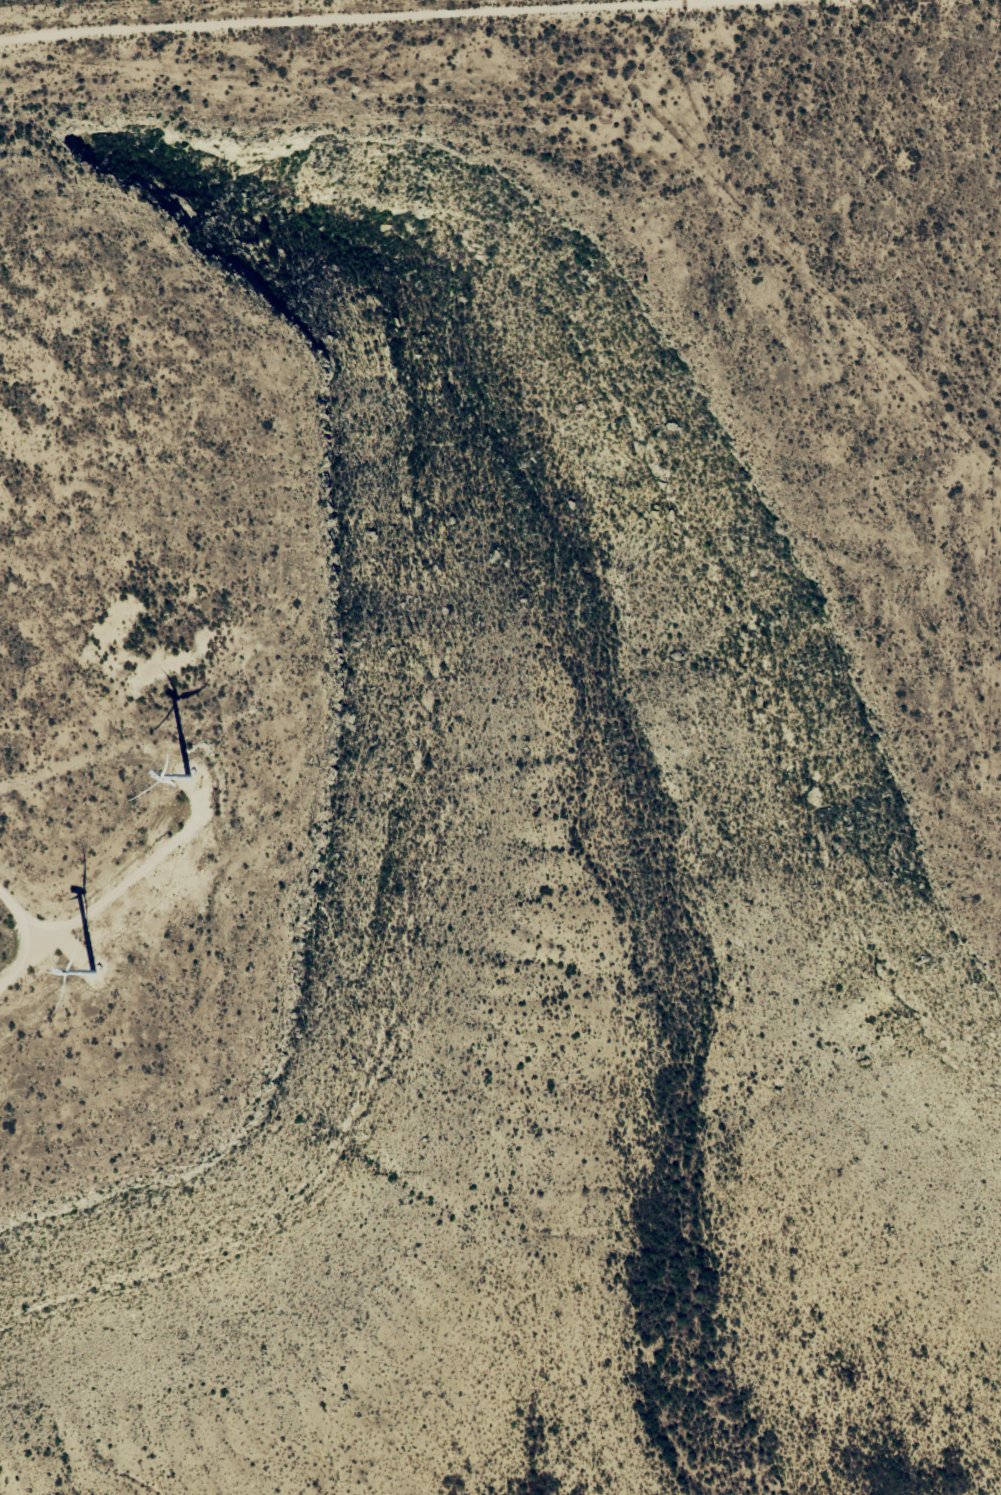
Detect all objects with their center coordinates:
wind turbine: (182, 778)
wind turbine: (93, 963)

